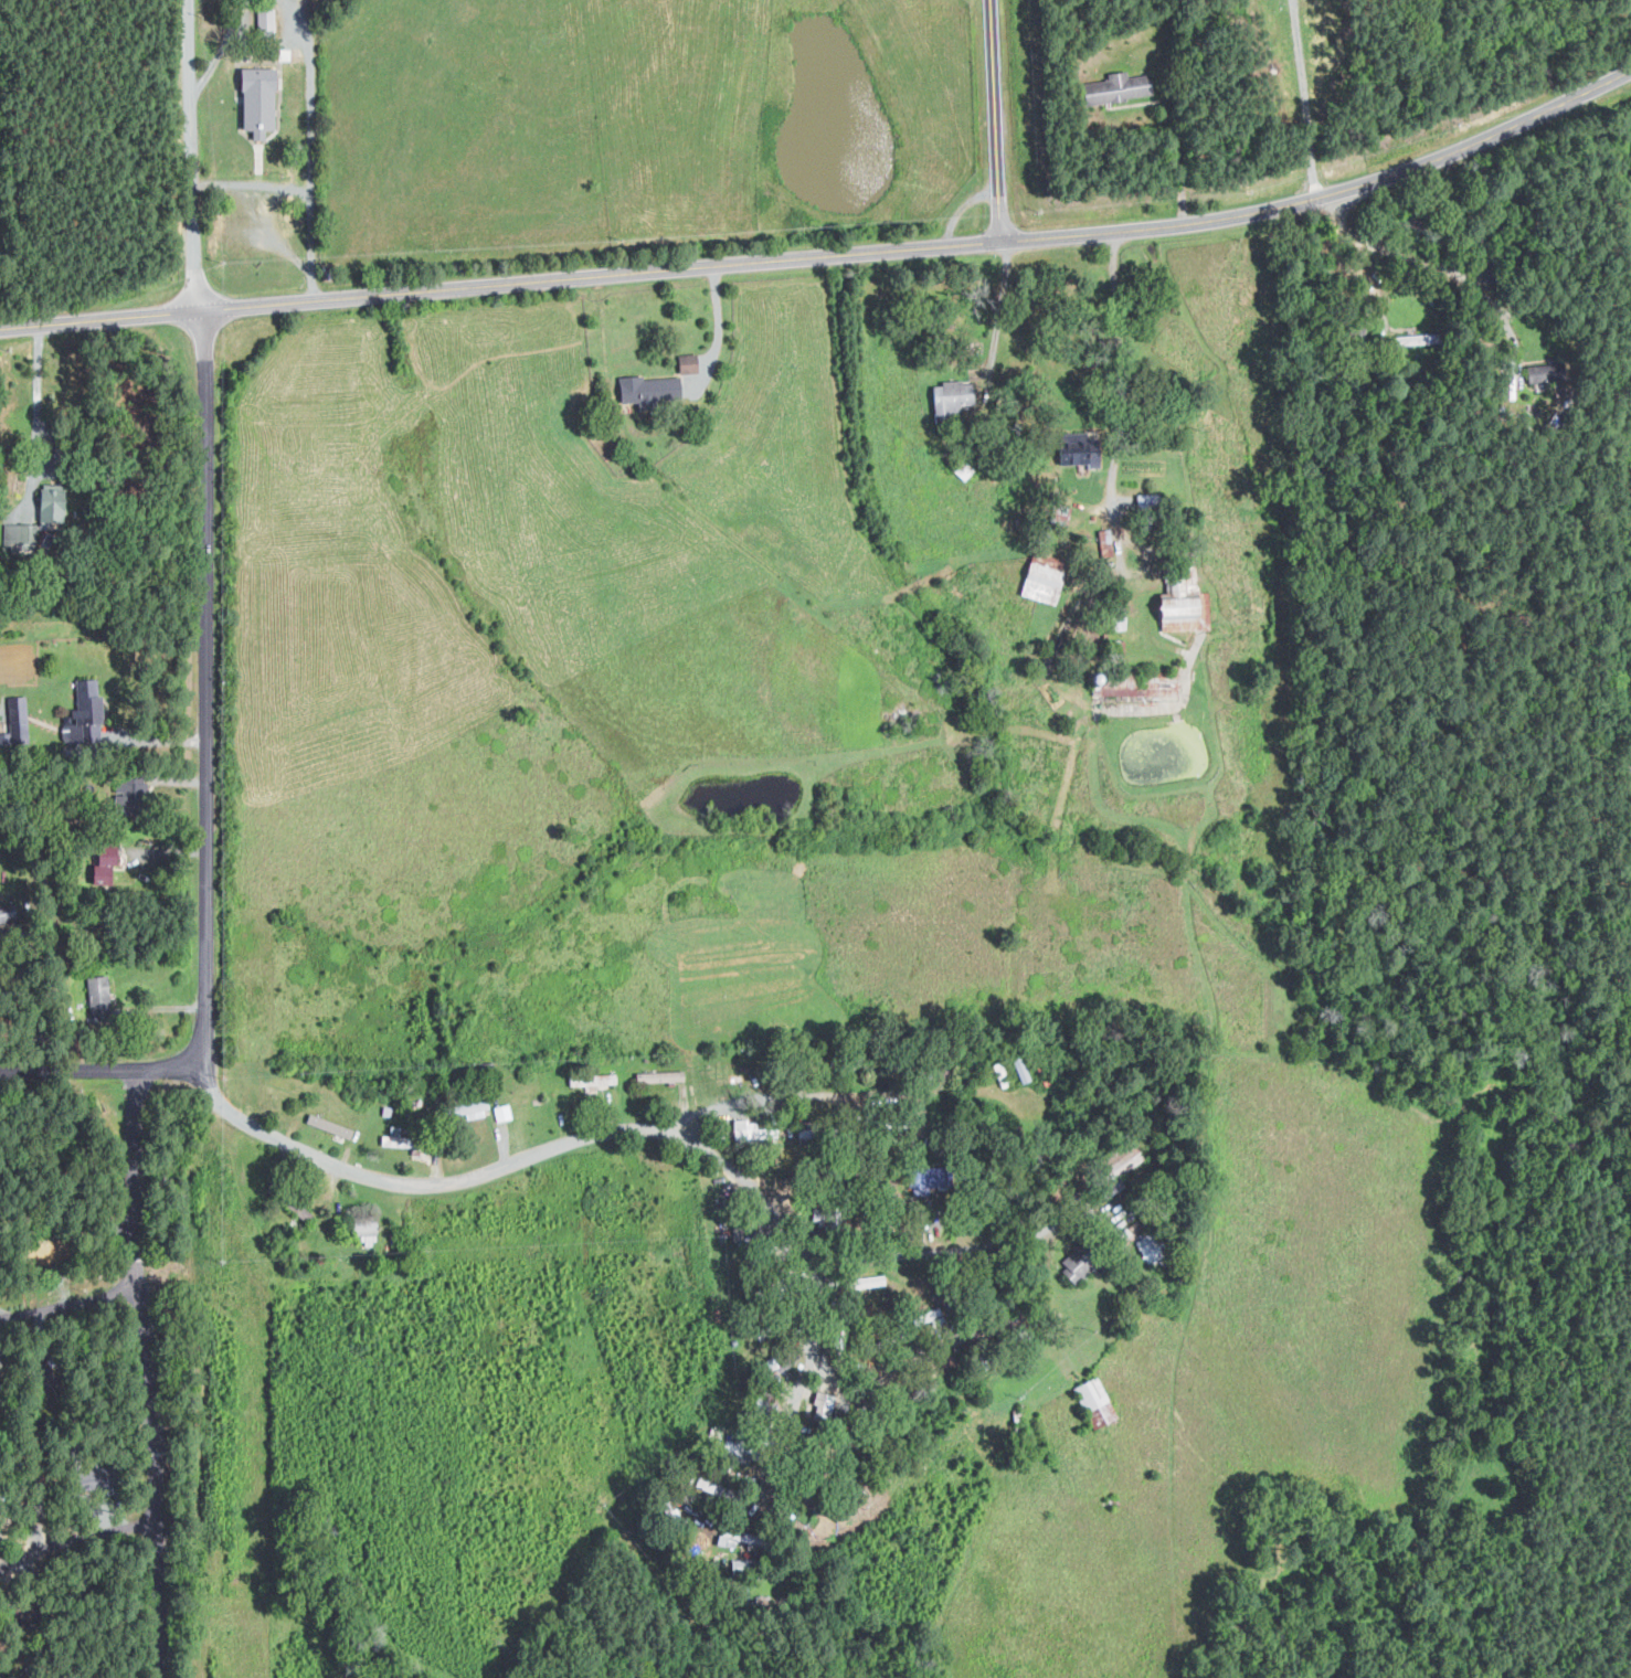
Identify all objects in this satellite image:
building: (267, 19)
road: (224, 45)
building: (1122, 87)
building: (261, 99)
road: (1312, 99)
road: (993, 120)
road: (311, 148)
road: (194, 157)
road: (253, 182)
road: (828, 255)
road: (1430, 264)
road: (998, 309)
road: (712, 326)
building: (1419, 339)
building: (690, 363)
road: (1121, 368)
building: (652, 390)
building: (954, 399)
road: (36, 403)
building: (54, 502)
building: (21, 537)
building: (1108, 544)
building: (1046, 582)
road: (202, 681)
building: (85, 713)
building: (19, 721)
building: (133, 786)
building: (108, 864)
building: (9, 913)
building: (99, 996)
road: (99, 1070)
building: (1024, 1071)
building: (591, 1081)
road: (774, 1098)
building: (459, 1109)
building: (501, 1113)
building: (327, 1125)
building: (401, 1140)
road: (459, 1177)
building: (293, 1202)
building: (367, 1230)
road: (940, 1250)
building: (1083, 1264)
road: (75, 1305)
road: (816, 1339)
road: (155, 1372)
building: (1097, 1398)
road: (785, 1431)
road: (78, 1537)
building: (729, 1540)

